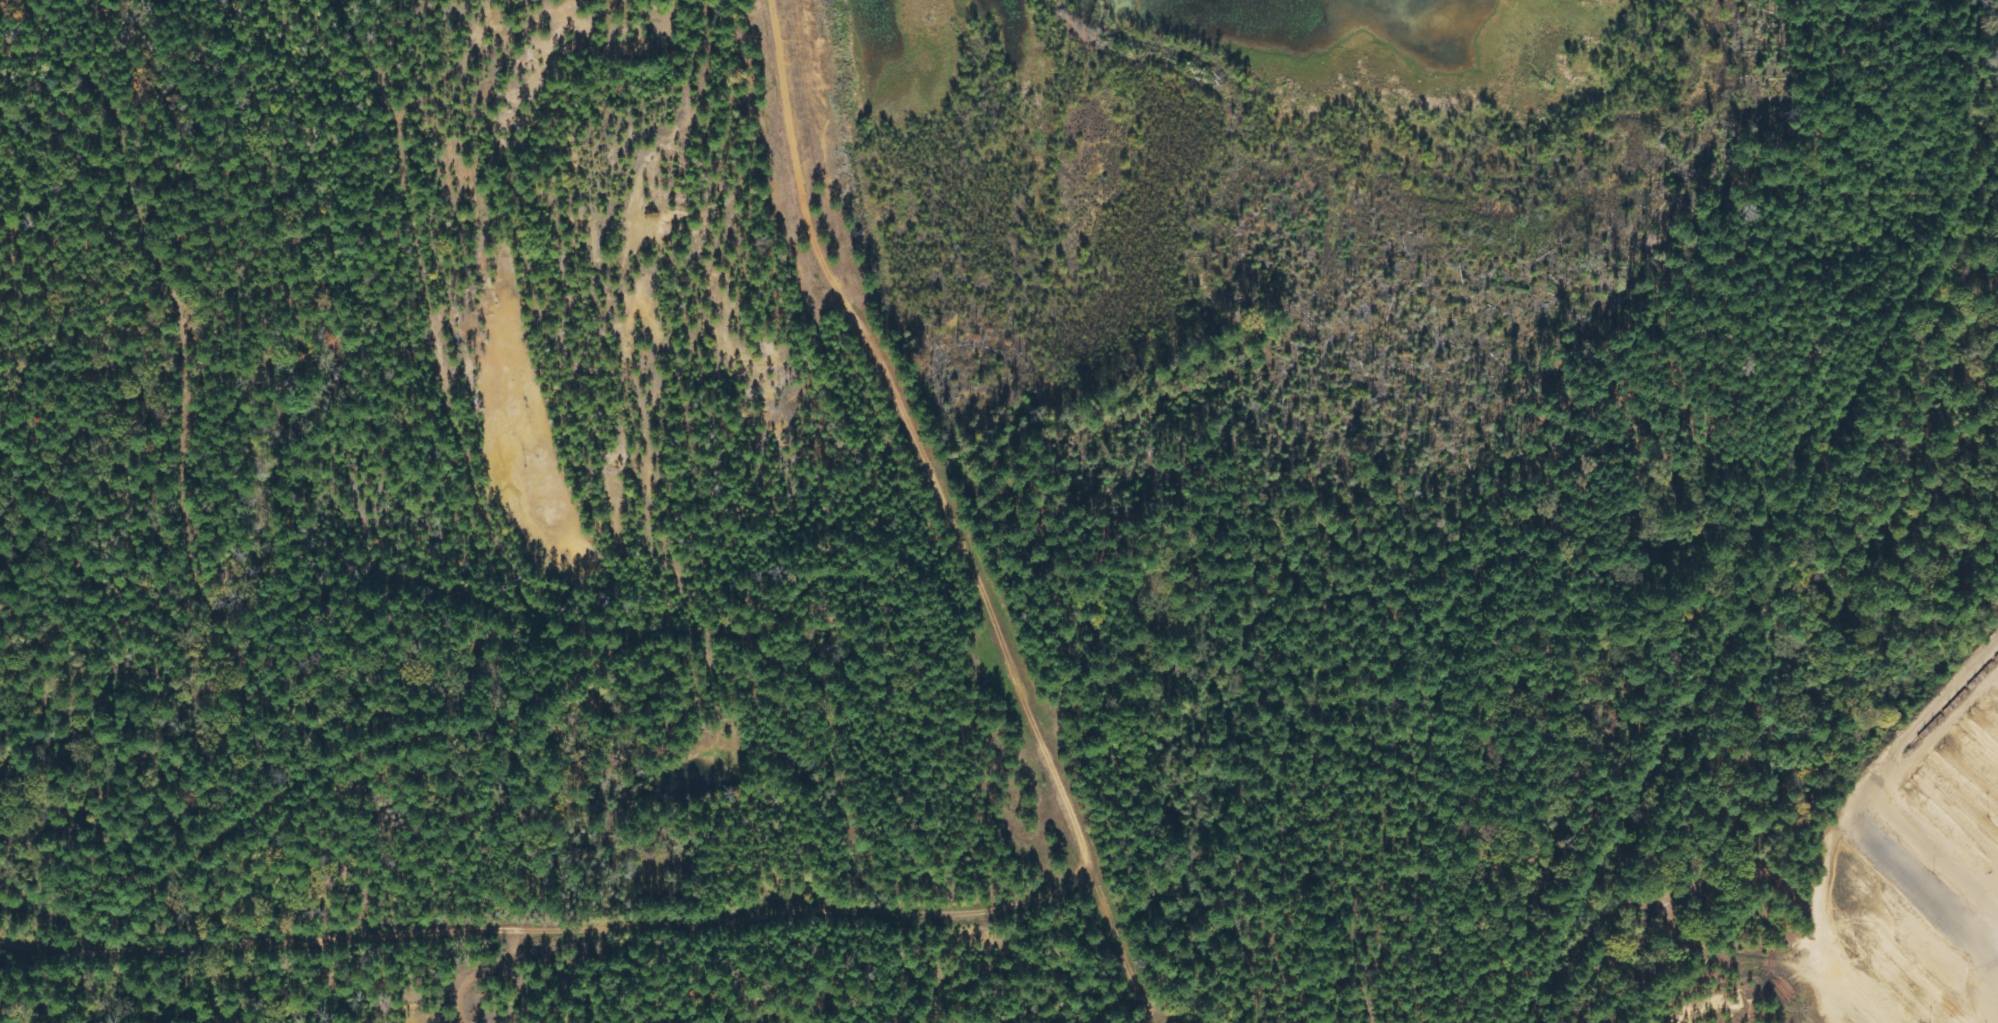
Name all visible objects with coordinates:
railway: (1953, 702)

